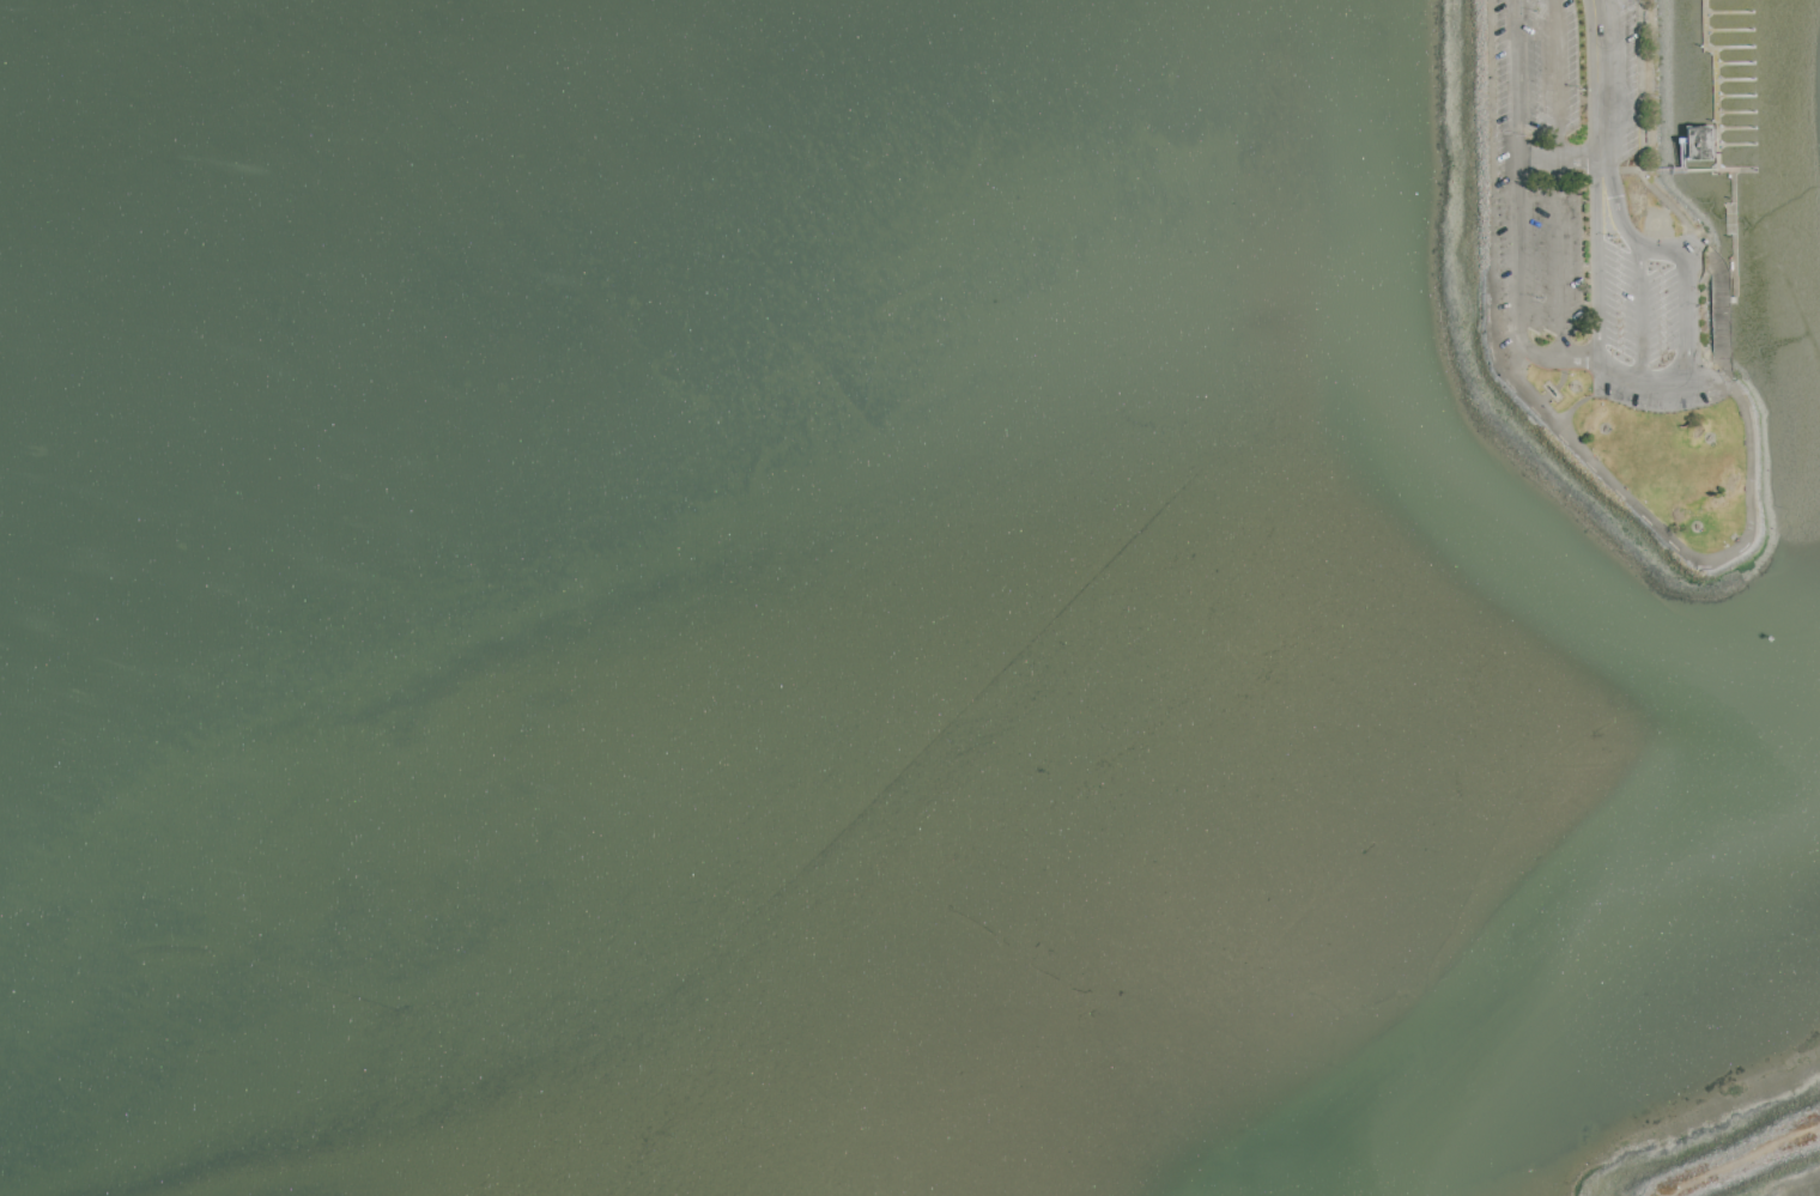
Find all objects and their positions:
road: (1515, 80)
road: (1558, 81)
road: (1597, 81)
pier: (1718, 107)
building: (1701, 142)
road: (1558, 163)
pier: (1722, 171)
road: (1594, 260)
road: (1639, 273)
road: (1688, 297)
road: (1545, 354)
road: (1619, 383)
road: (1583, 401)
road: (1689, 555)

